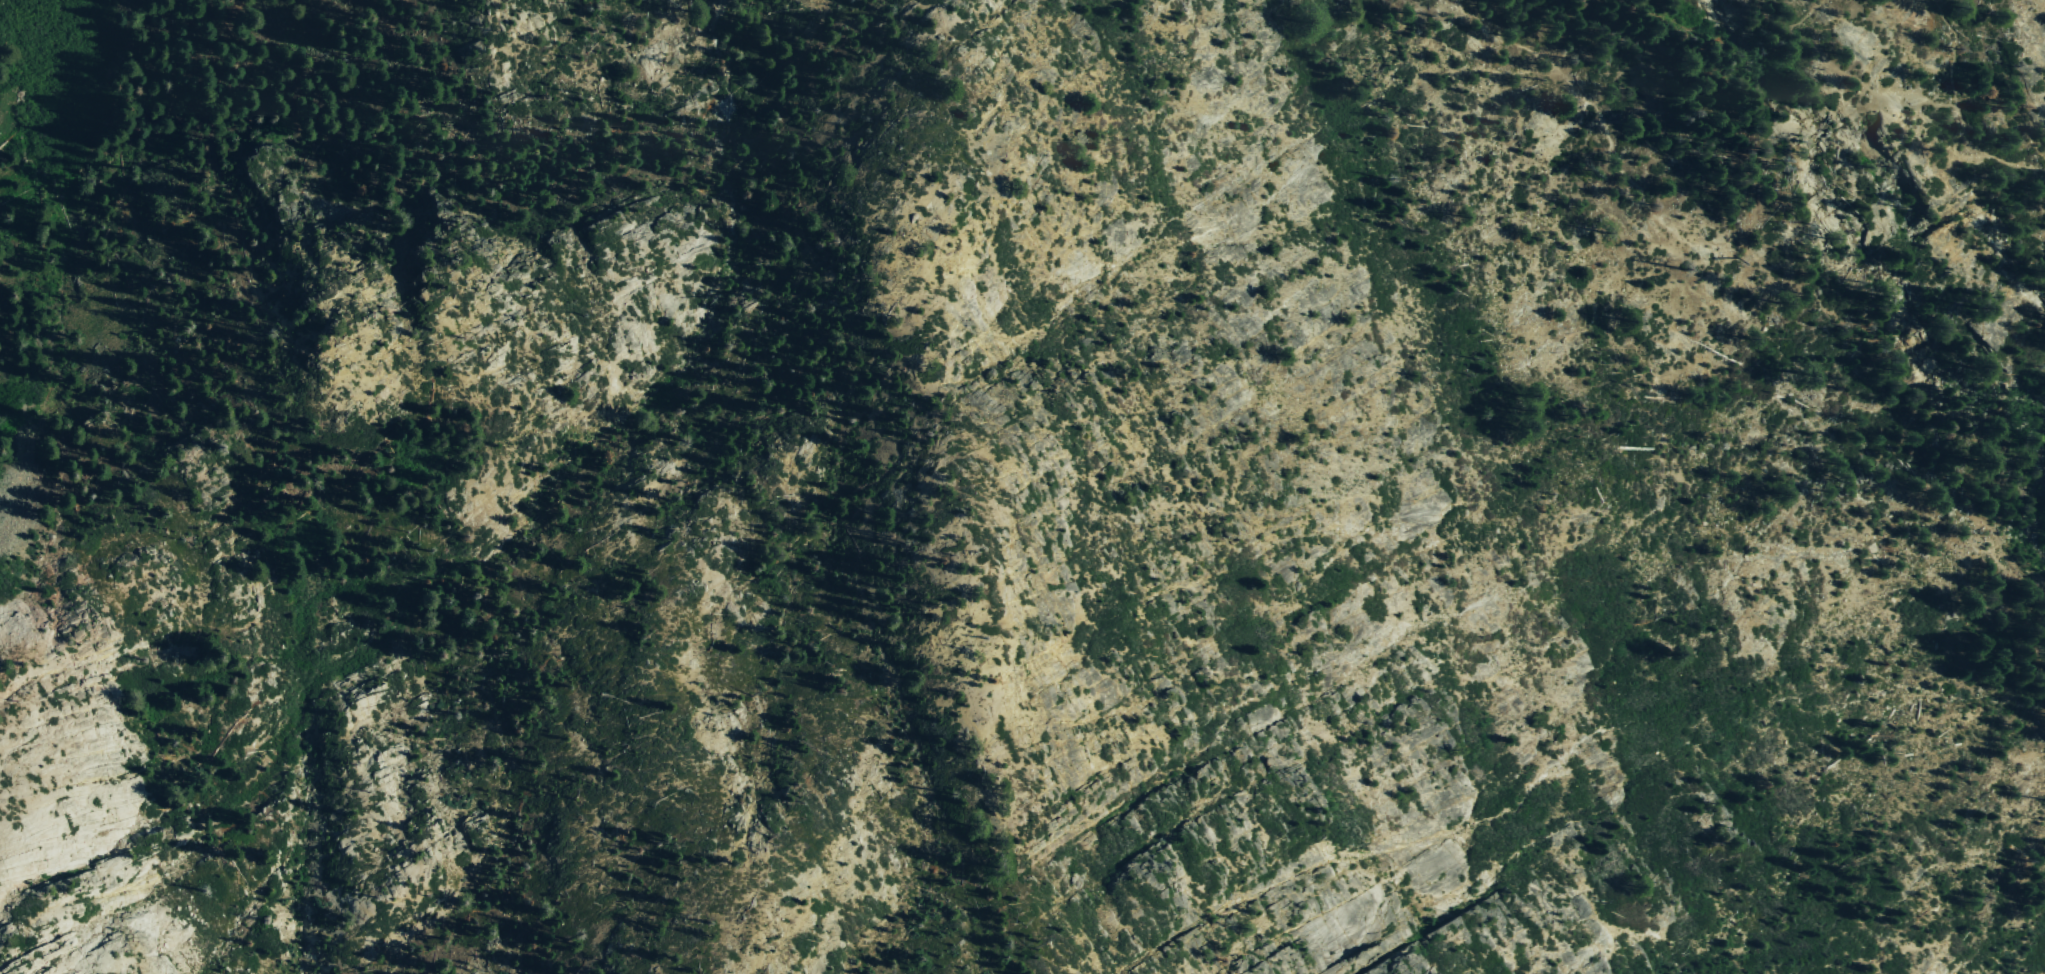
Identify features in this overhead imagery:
road: (1794, 12)
road: (1961, 107)
road: (1962, 255)
road: (1828, 304)

